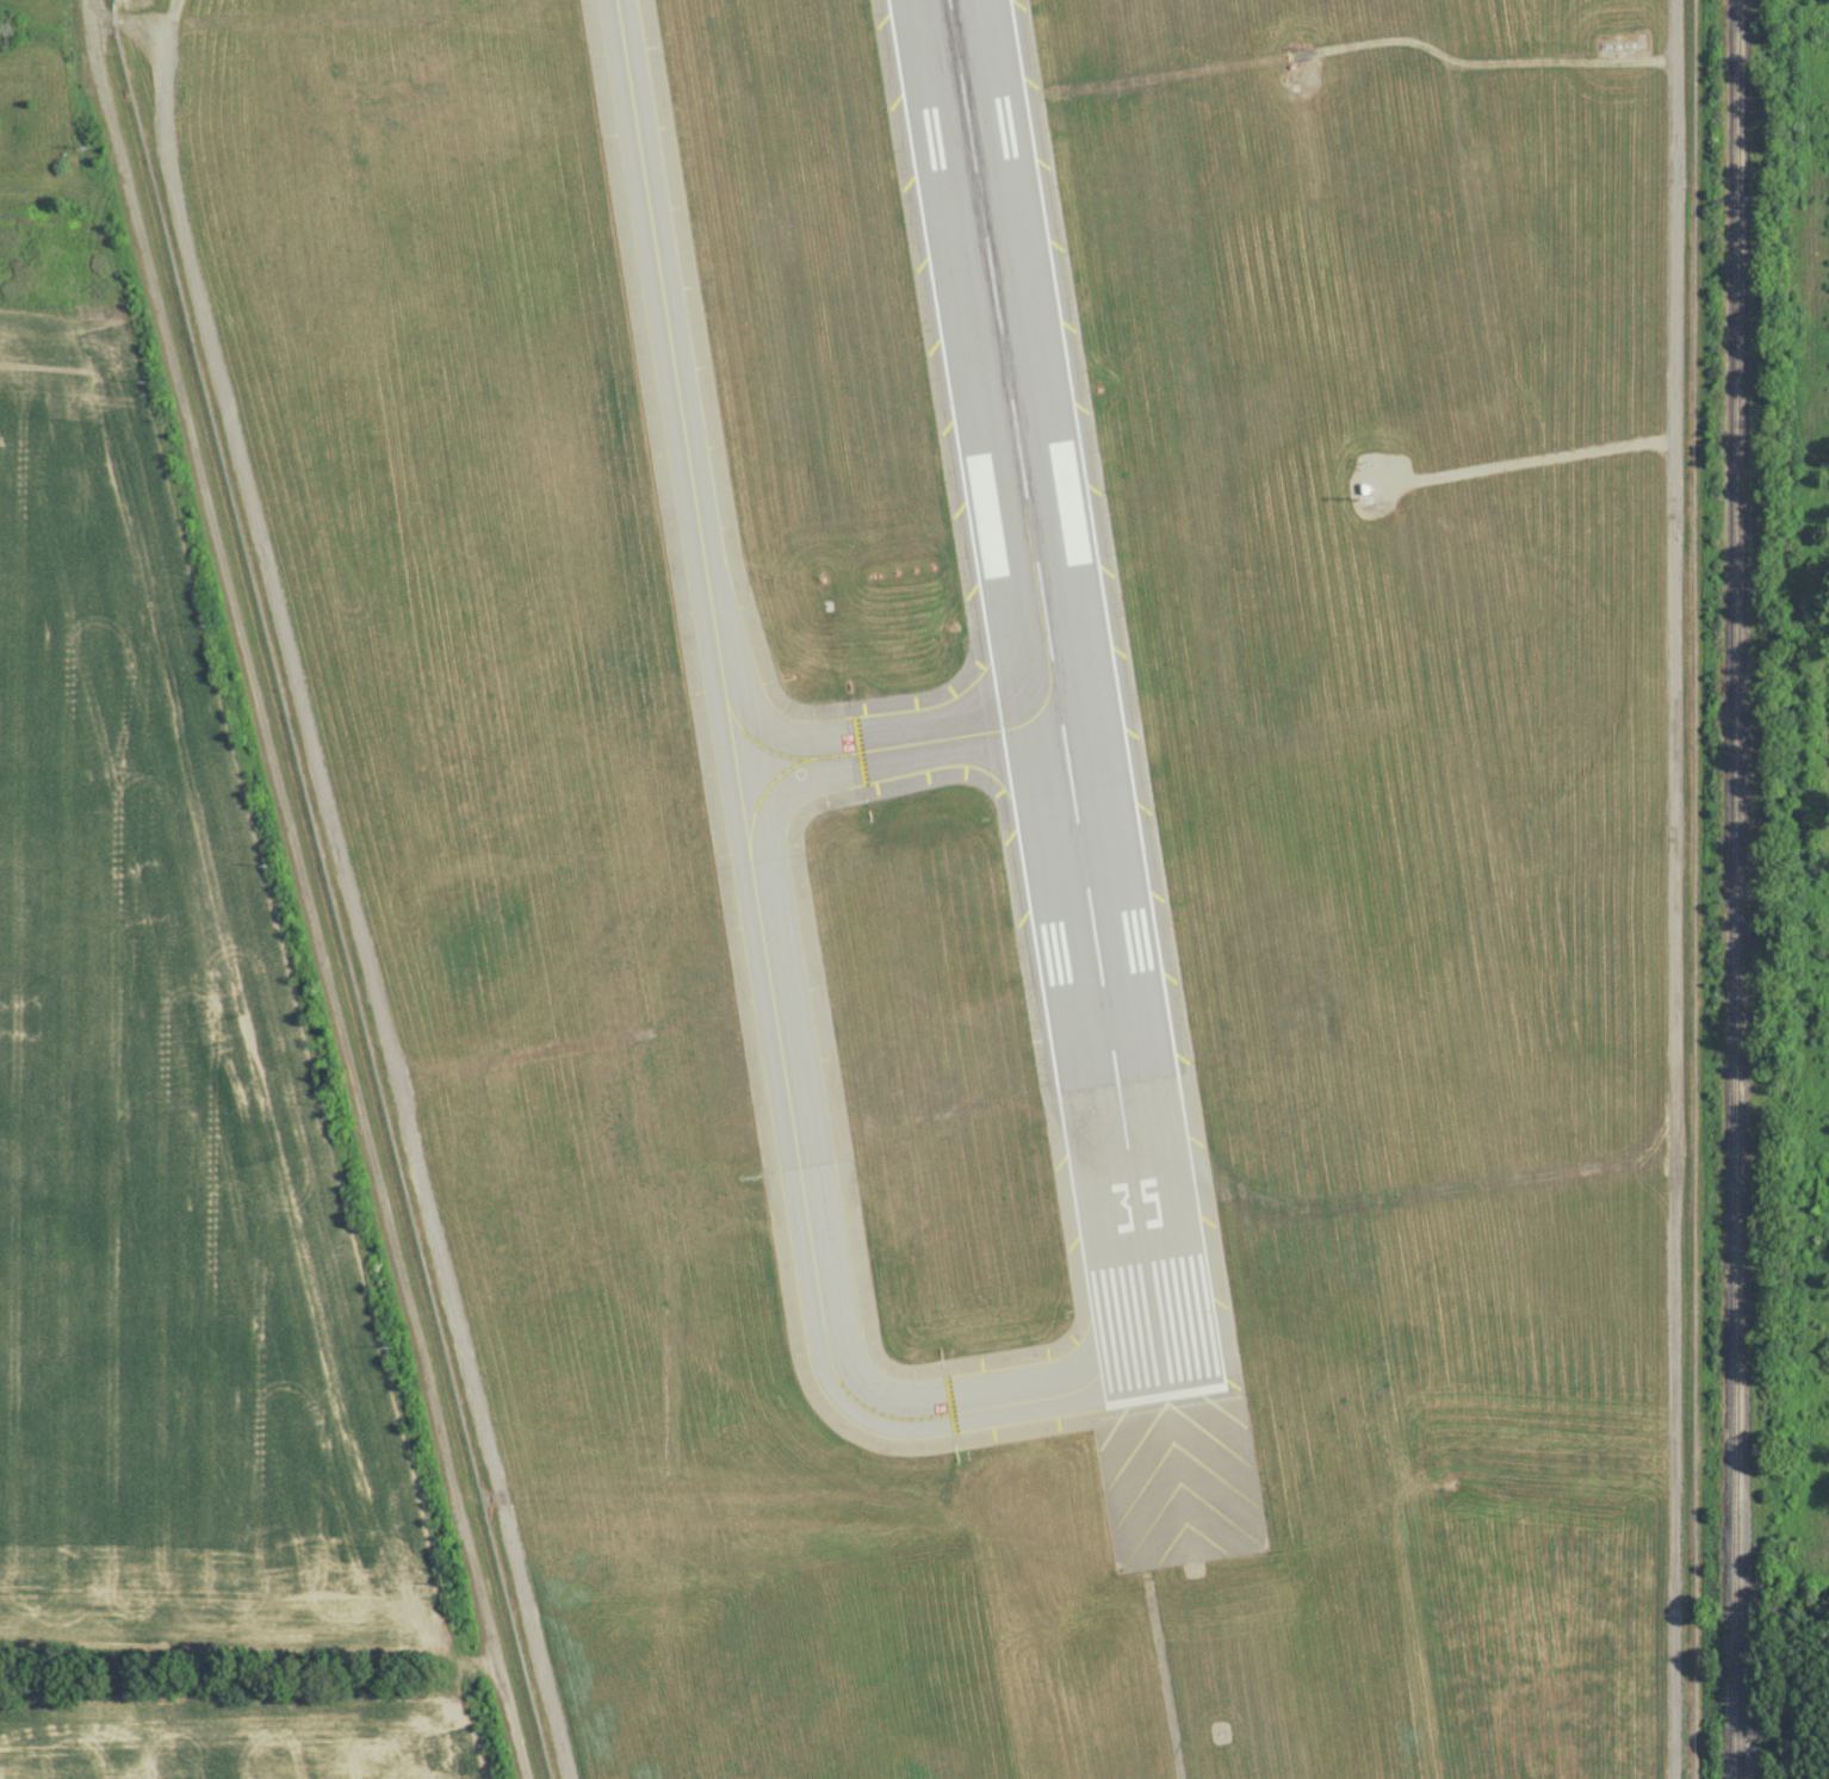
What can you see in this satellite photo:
road: (123, 26)
road: (91, 58)
airport runway: (1058, 696)
airport taxiway: (727, 702)
airport taxiway: (903, 748)
airport taxiway: (763, 799)
airport: (1007, 841)
road: (1676, 888)
railway: (1737, 889)
road: (348, 891)
road: (314, 948)
crop: (159, 1110)
airport taxiway: (1015, 1406)
road: (1160, 1682)

